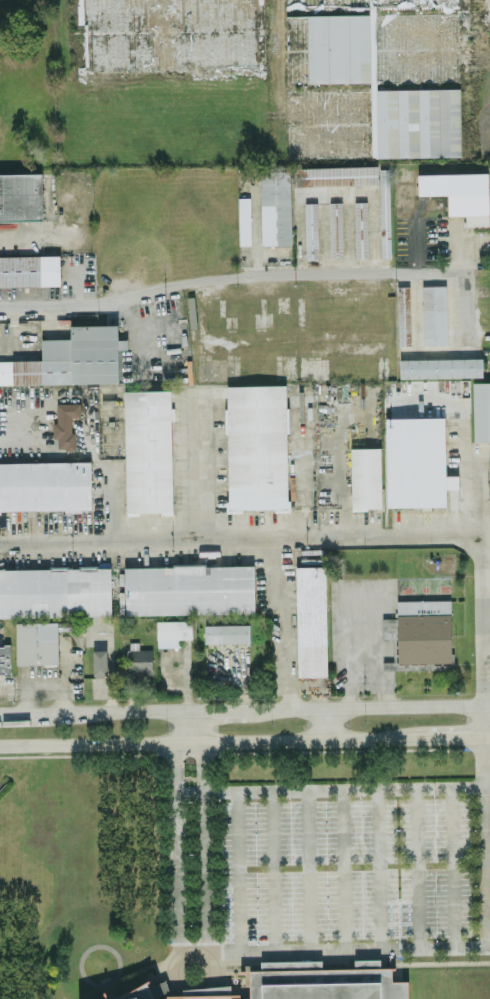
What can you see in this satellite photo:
building: (163, 36)
building: (372, 78)
building: (336, 175)
building: (21, 196)
building: (468, 196)
building: (275, 207)
building: (384, 212)
building: (244, 220)
building: (360, 228)
building: (335, 229)
building: (311, 230)
road: (454, 249)
building: (29, 269)
road: (229, 282)
building: (403, 314)
building: (434, 314)
road: (438, 347)
building: (69, 358)
building: (440, 367)
building: (481, 410)
building: (65, 422)
road: (21, 433)
building: (257, 446)
building: (147, 450)
building: (416, 461)
road: (195, 466)
building: (365, 477)
road: (342, 478)
building: (45, 485)
road: (303, 488)
road: (238, 536)
road: (478, 577)
building: (189, 589)
road: (363, 593)
building: (49, 604)
building: (311, 620)
road: (281, 621)
building: (423, 630)
building: (172, 631)
building: (226, 632)
building: (5, 658)
building: (139, 661)
building: (99, 662)
road: (366, 706)
road: (214, 709)
road: (121, 711)
road: (28, 713)
road: (481, 721)
road: (325, 722)
road: (185, 725)
road: (486, 736)
road: (445, 737)
road: (203, 740)
road: (331, 789)
road: (483, 841)
road: (203, 842)
road: (173, 844)
road: (446, 866)
road: (416, 867)
road: (340, 868)
road: (375, 868)
road: (304, 869)
road: (237, 870)
road: (271, 870)
road: (332, 948)
building: (321, 982)
road: (189, 990)
building: (173, 991)

